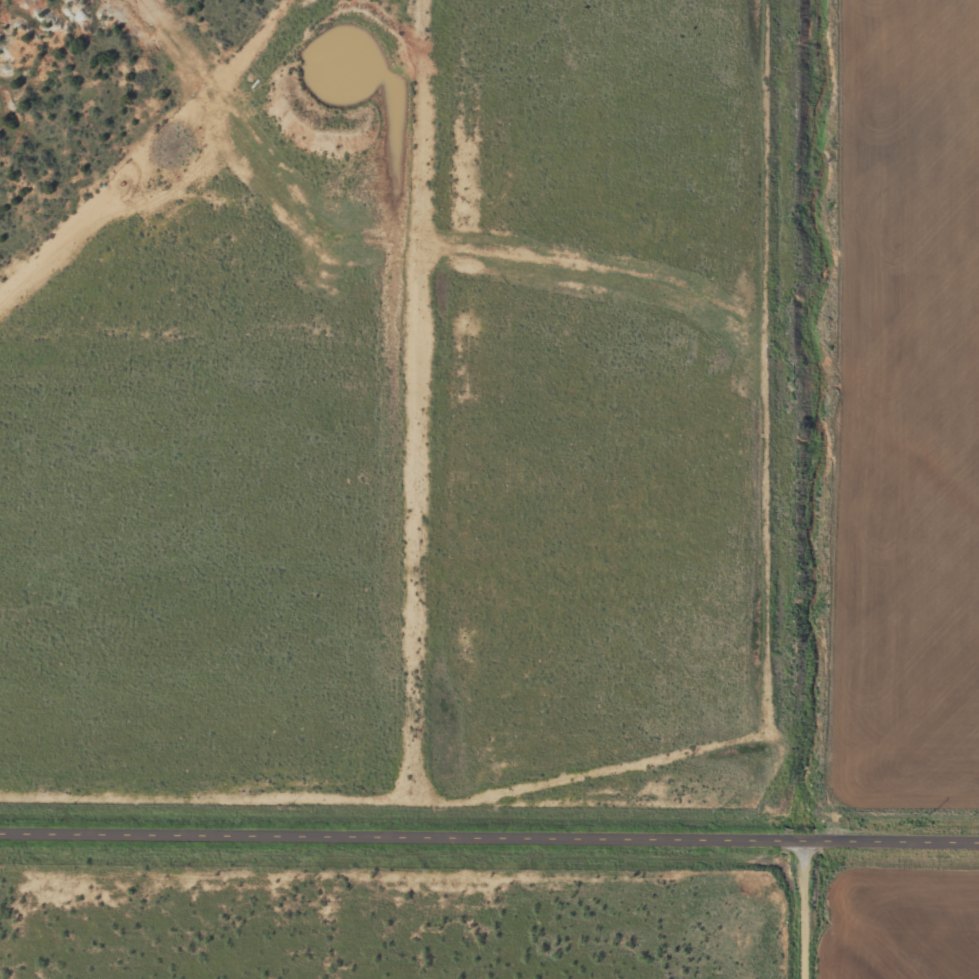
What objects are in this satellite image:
road: (489, 839)
road: (807, 910)

